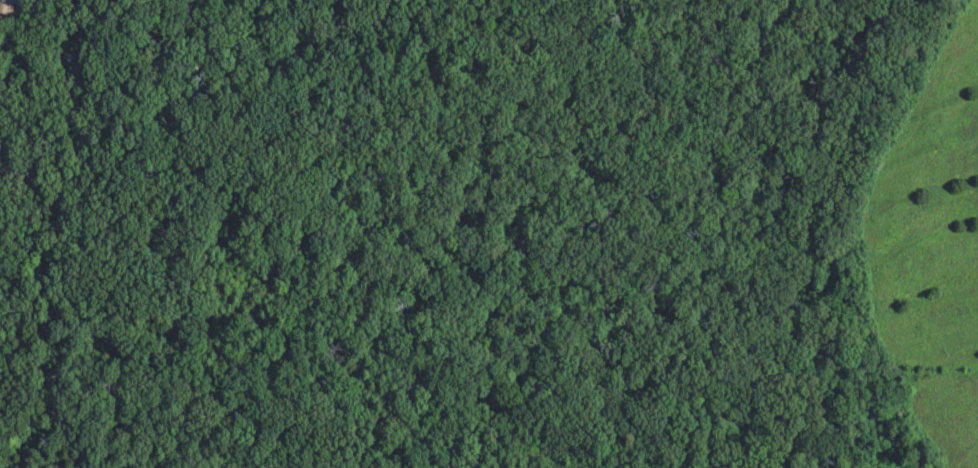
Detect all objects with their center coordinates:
building: (5, 17)
road: (178, 69)

